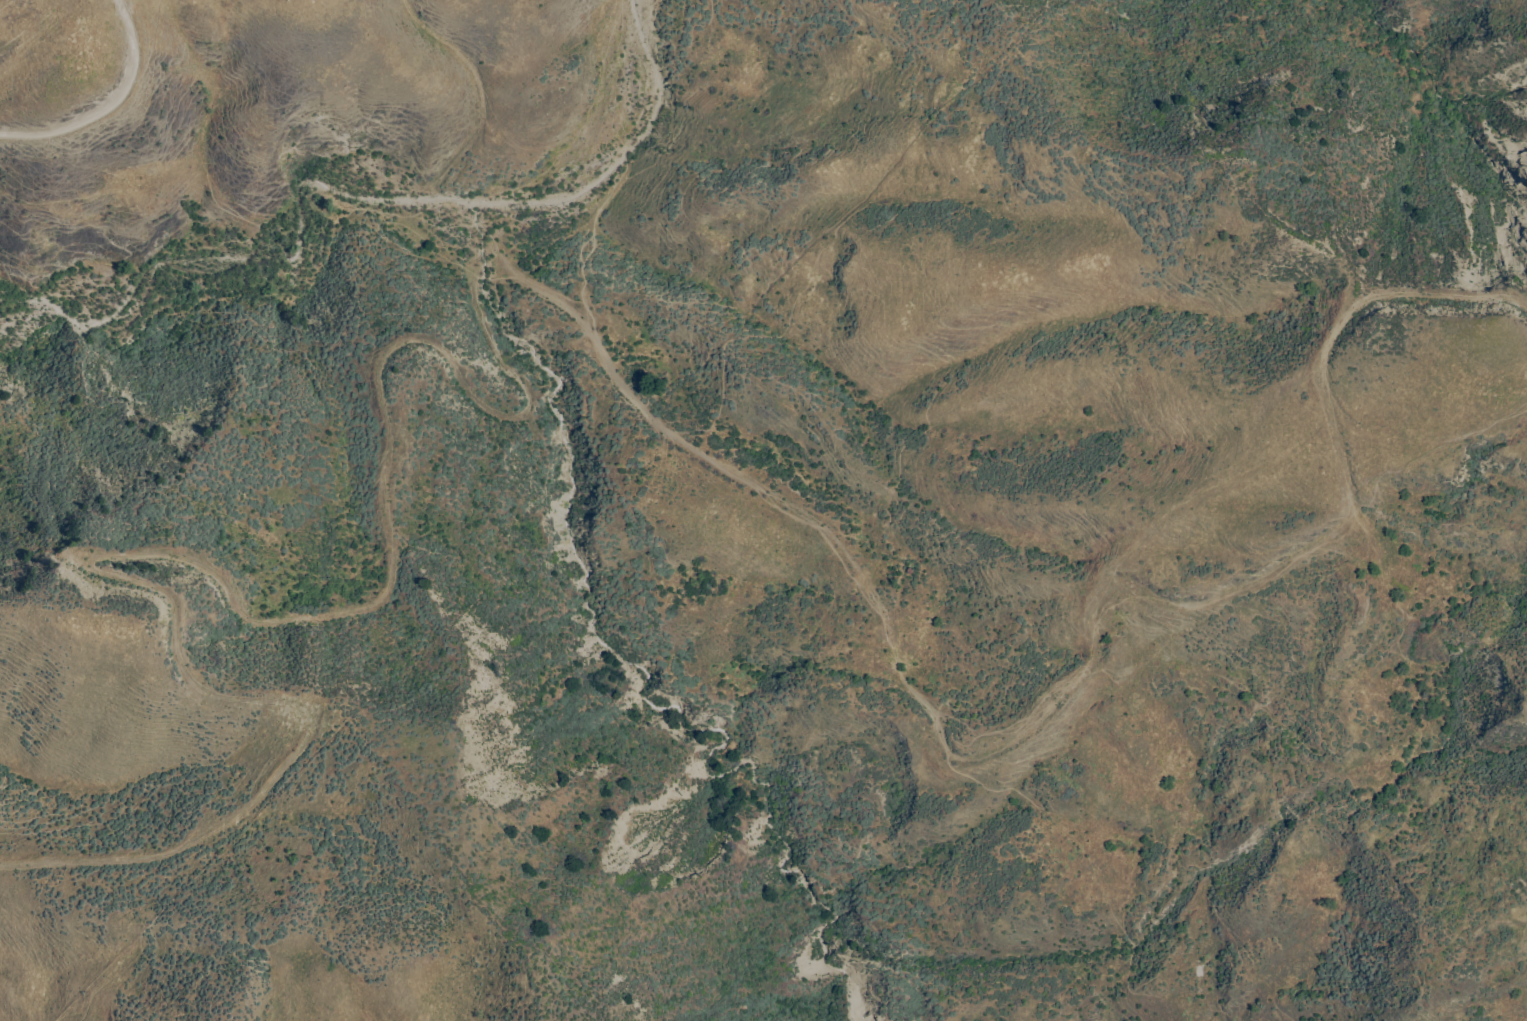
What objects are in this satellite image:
road: (106, 103)

